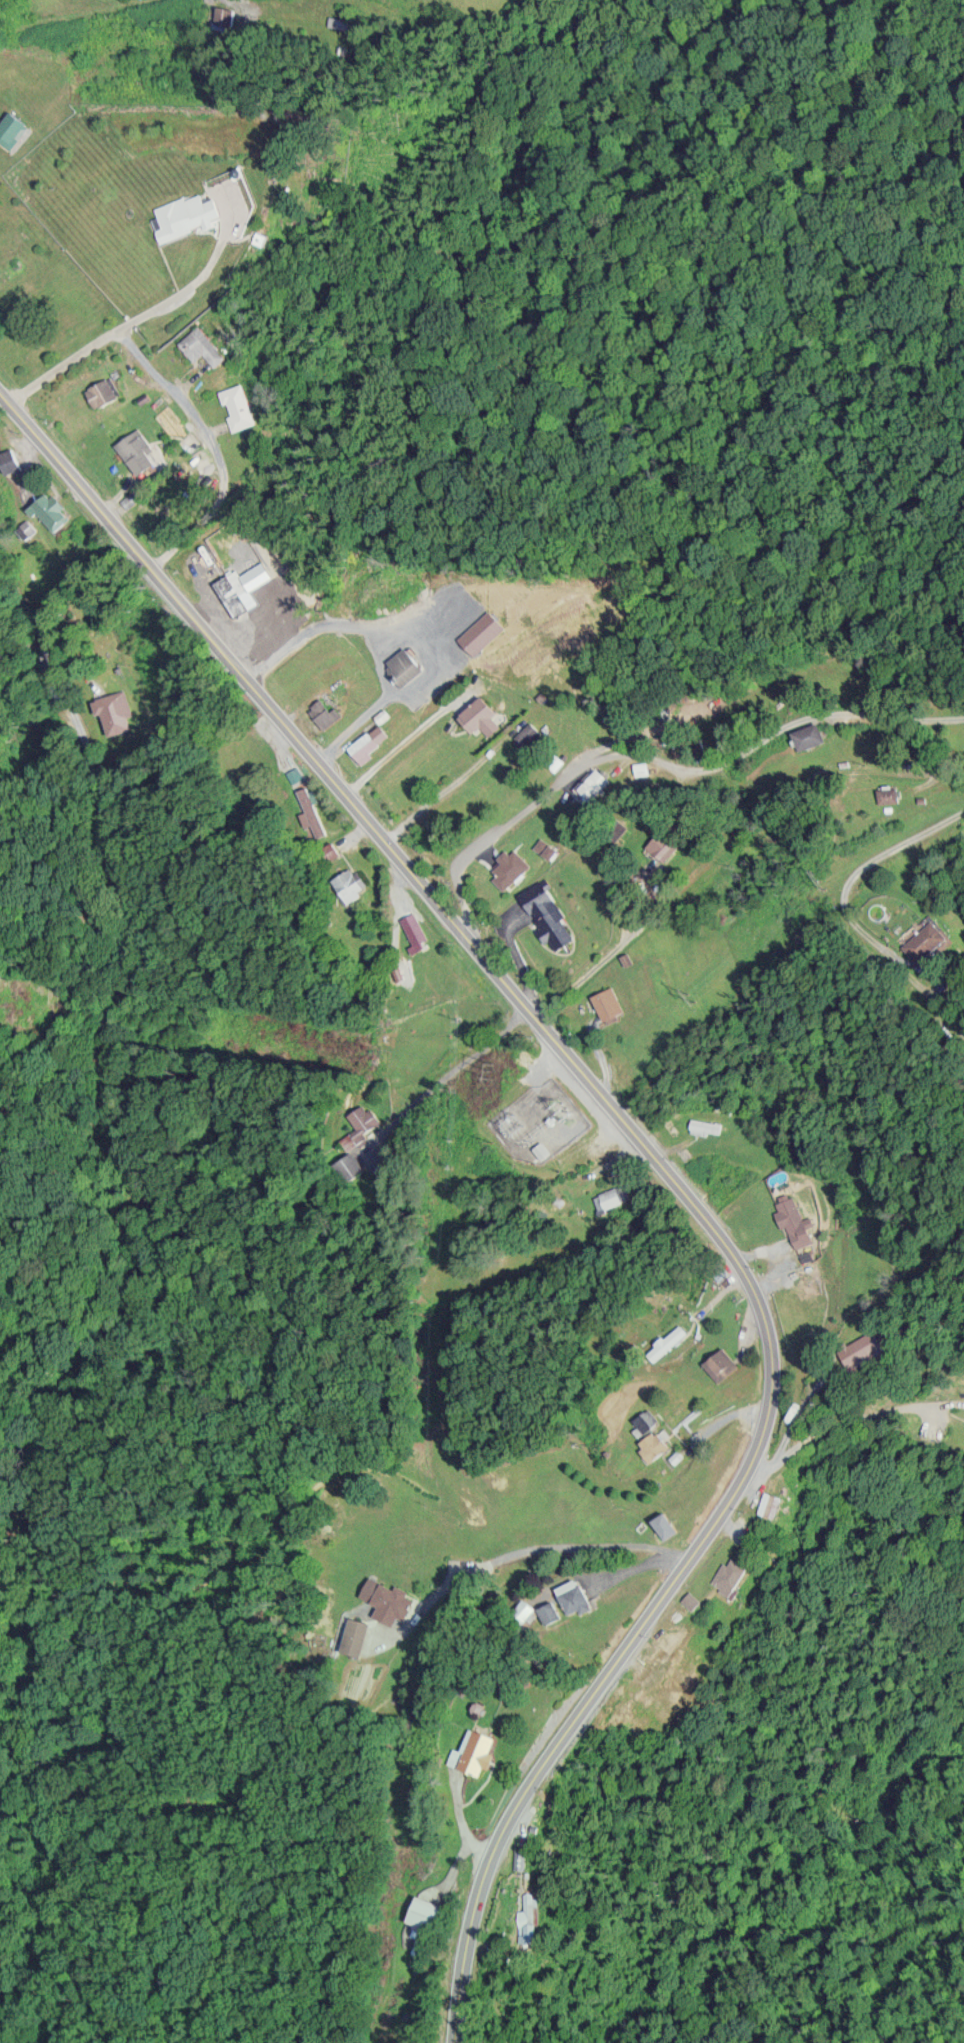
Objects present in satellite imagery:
building: (10, 127)
building: (179, 215)
road: (127, 323)
building: (199, 345)
building: (107, 390)
building: (243, 407)
road: (214, 430)
building: (143, 449)
building: (17, 458)
building: (55, 509)
building: (235, 592)
building: (402, 664)
building: (321, 710)
building: (477, 715)
building: (528, 734)
building: (806, 734)
building: (360, 746)
road: (679, 768)
building: (591, 782)
building: (310, 810)
road: (102, 822)
building: (658, 844)
building: (325, 851)
road: (742, 855)
building: (507, 867)
building: (345, 883)
building: (544, 913)
building: (412, 931)
road: (829, 950)
building: (605, 1002)
power tower: (488, 1070)
road: (444, 1074)
power substation: (535, 1121)
building: (703, 1125)
road: (653, 1154)
building: (608, 1198)
building: (790, 1217)
road: (585, 1247)
building: (815, 1293)
building: (667, 1343)
building: (718, 1363)
building: (648, 1434)
building: (765, 1504)
building: (659, 1525)
building: (724, 1574)
building: (569, 1595)
building: (389, 1600)
building: (353, 1635)
building: (473, 1753)
building: (421, 1912)
building: (526, 1916)

